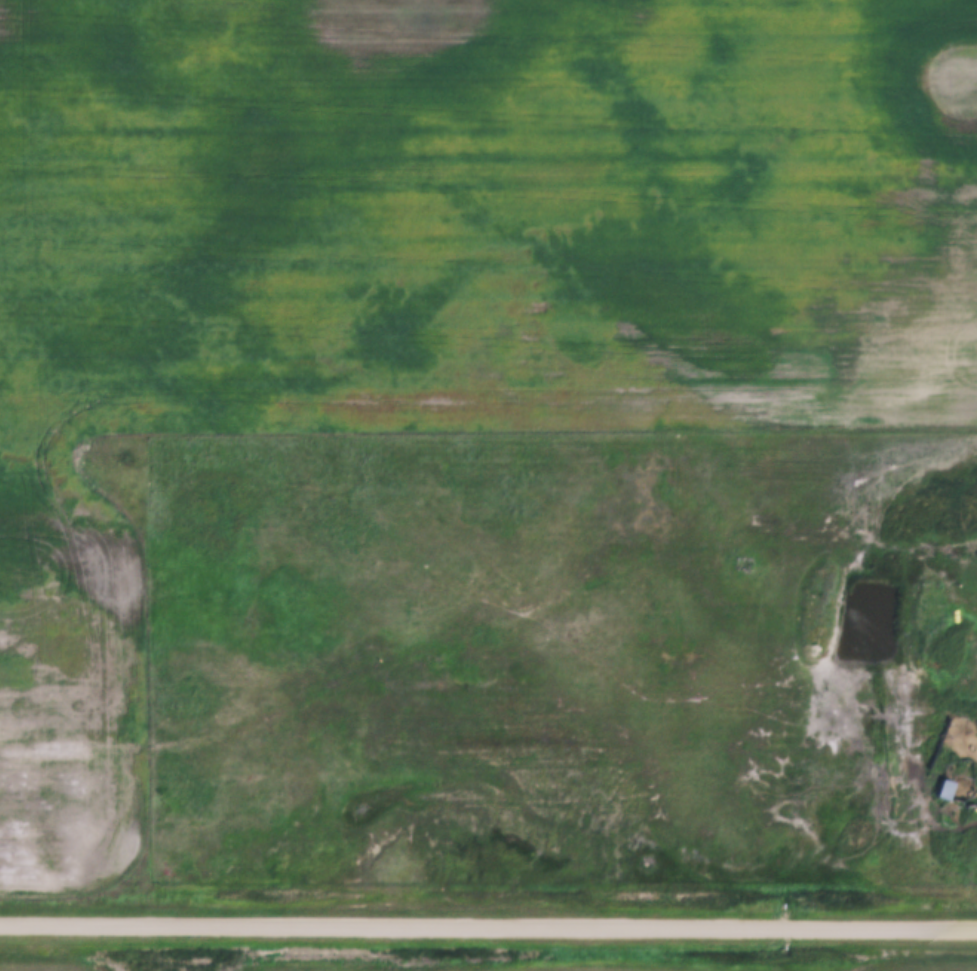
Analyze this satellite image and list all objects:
building: (939, 789)
road: (488, 922)

